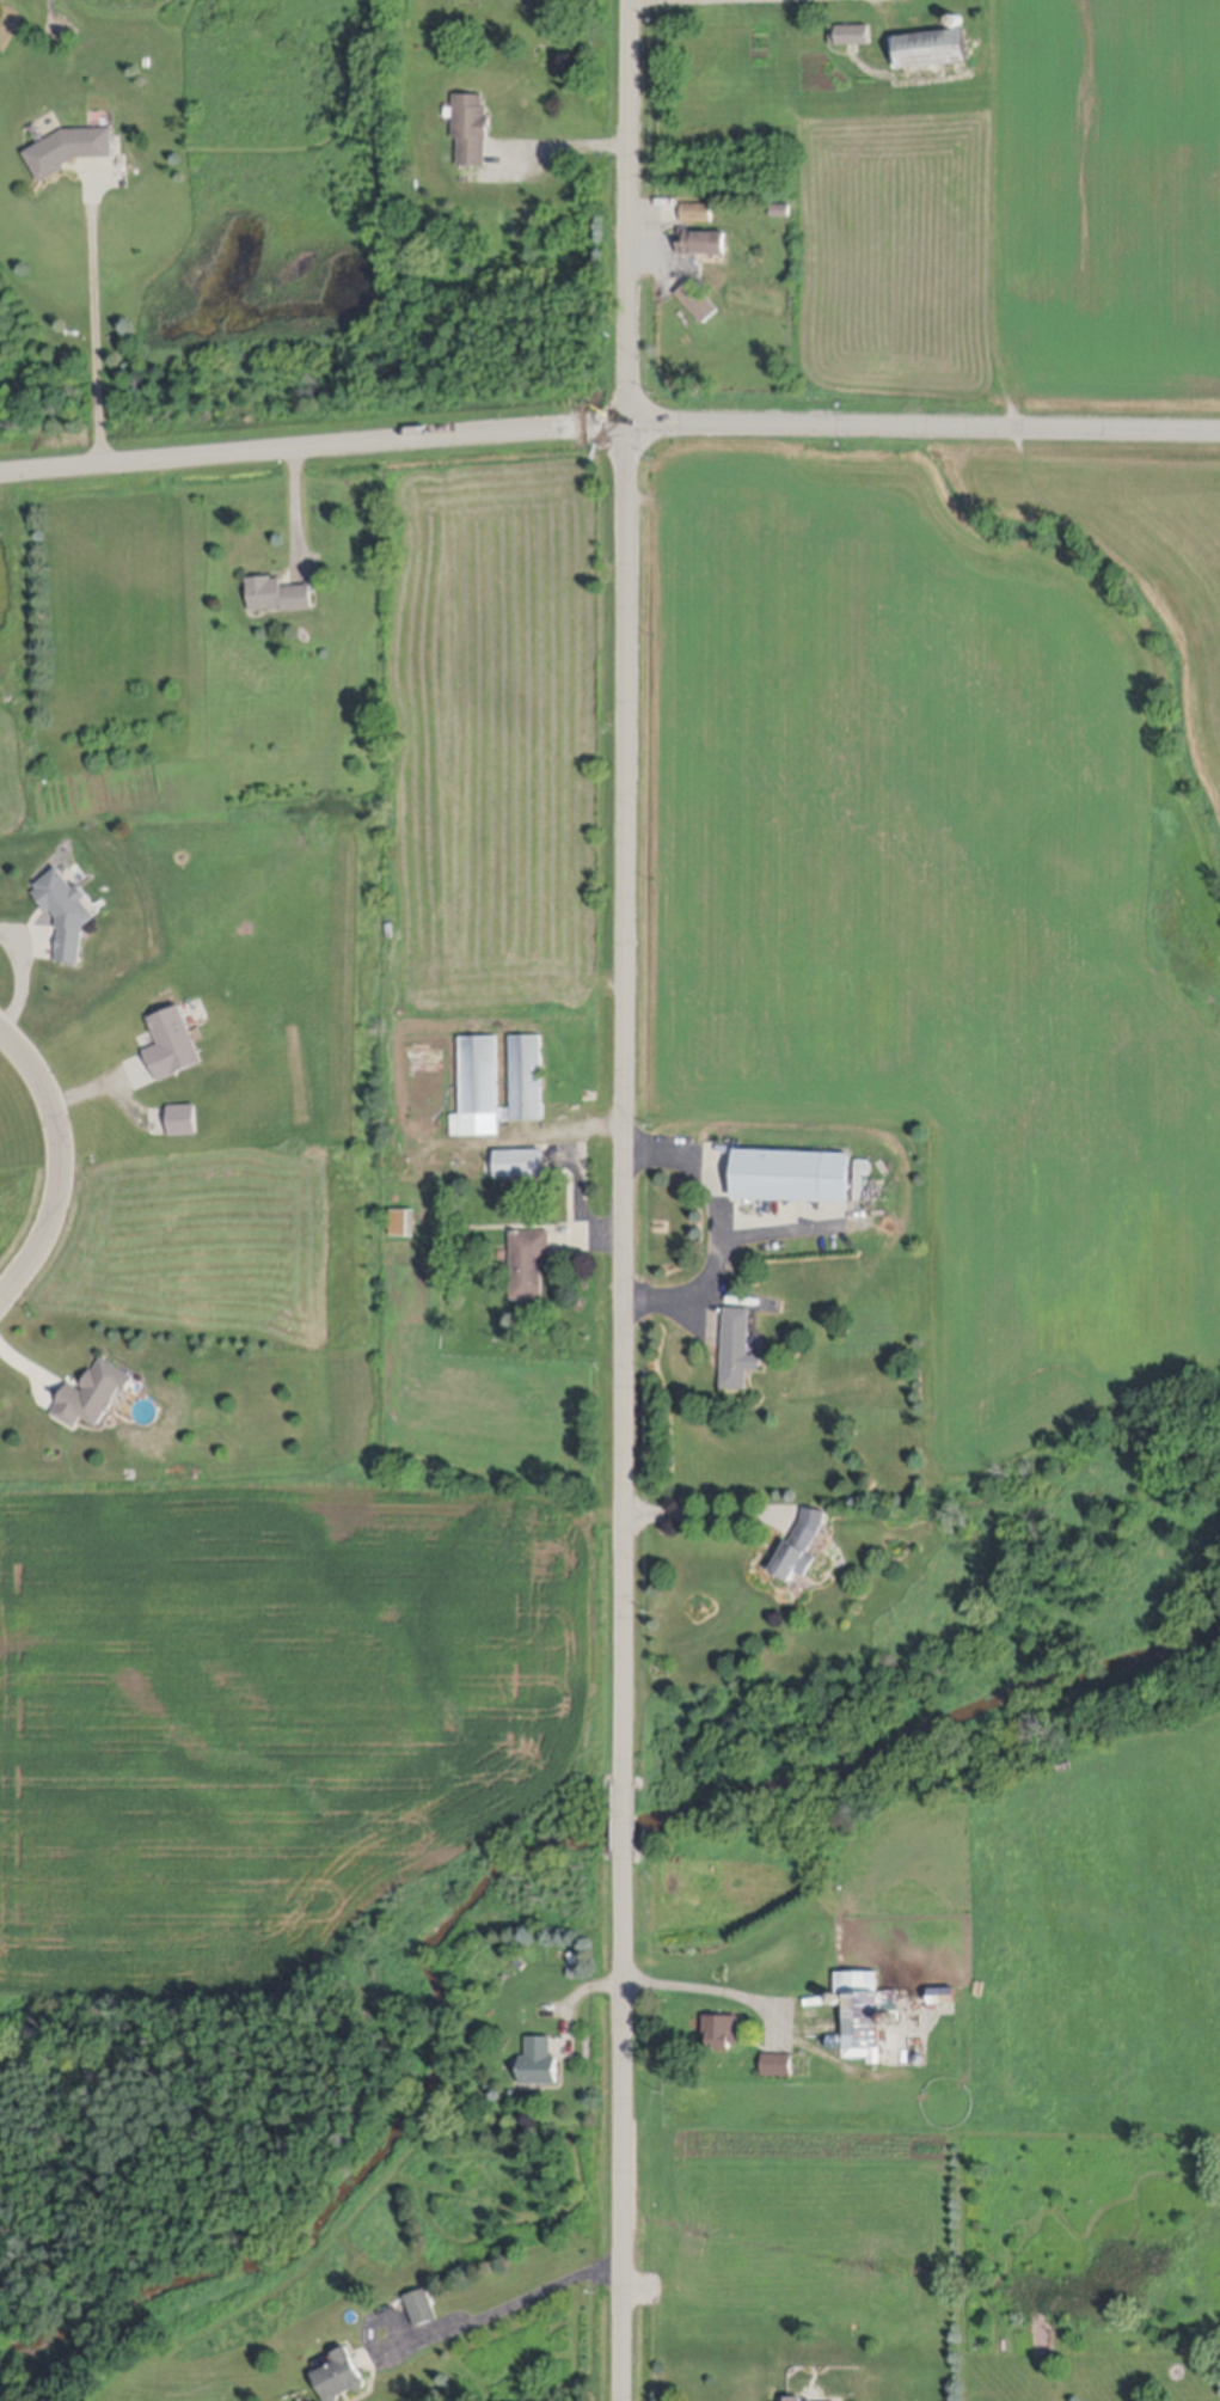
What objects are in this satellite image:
building: (958, 18)
building: (850, 32)
building: (930, 45)
building: (472, 127)
road: (563, 141)
building: (70, 147)
building: (781, 208)
building: (698, 210)
building: (703, 240)
building: (699, 300)
road: (98, 325)
road: (608, 426)
building: (278, 593)
building: (67, 914)
road: (33, 980)
building: (172, 1044)
building: (497, 1083)
road: (102, 1093)
building: (184, 1119)
road: (60, 1162)
building: (520, 1163)
building: (792, 1177)
road: (626, 1199)
building: (404, 1222)
road: (718, 1230)
building: (529, 1263)
building: (737, 1350)
building: (93, 1395)
road: (704, 1511)
building: (802, 1547)
building: (574, 1960)
building: (522, 1965)
building: (574, 1974)
road: (717, 1986)
building: (943, 1997)
building: (838, 2000)
building: (864, 2016)
building: (723, 2035)
building: (921, 2059)
building: (540, 2064)
building: (778, 2066)
road: (509, 2303)
building: (423, 2310)
building: (1175, 2373)
building: (342, 2381)

